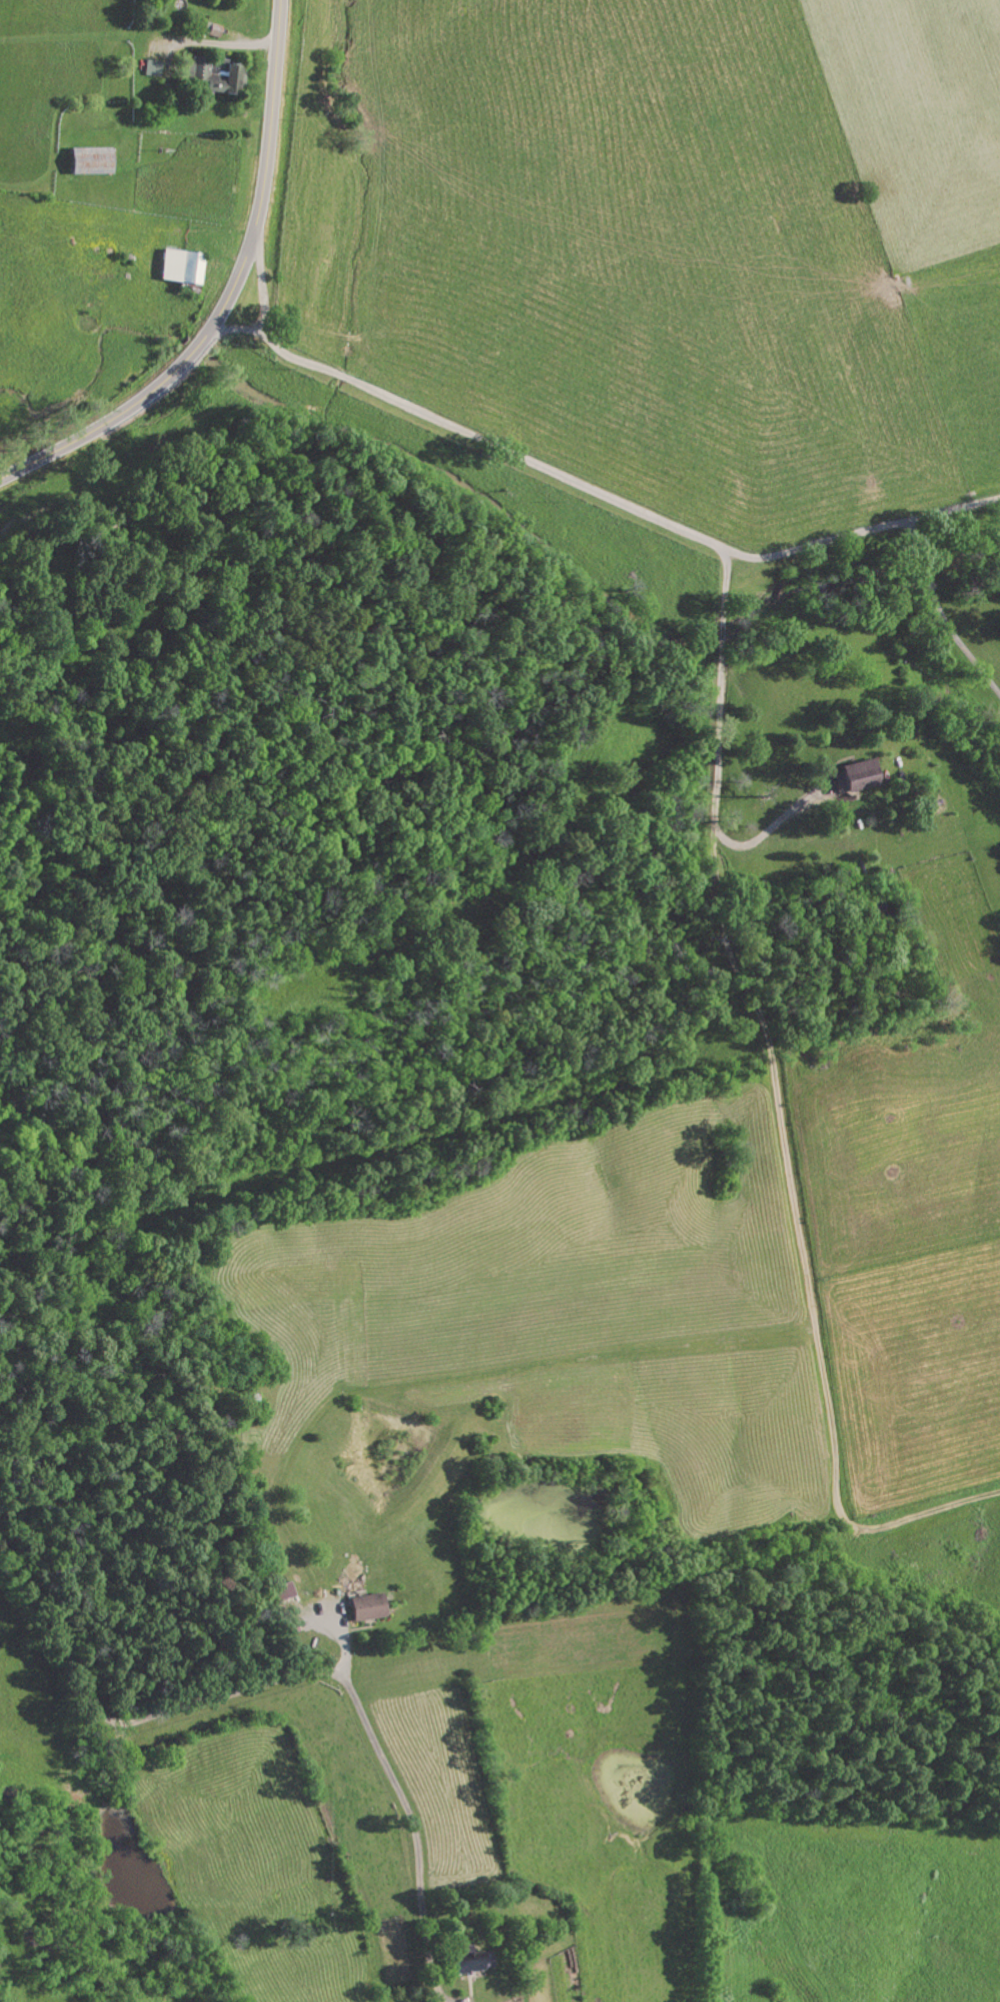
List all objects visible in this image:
building: (152, 69)
building: (214, 77)
building: (89, 163)
building: (180, 266)
road: (263, 277)
road: (229, 293)
road: (595, 486)
road: (942, 607)
building: (859, 775)
building: (281, 1593)
building: (366, 1608)
road: (275, 1681)
building: (471, 1964)

